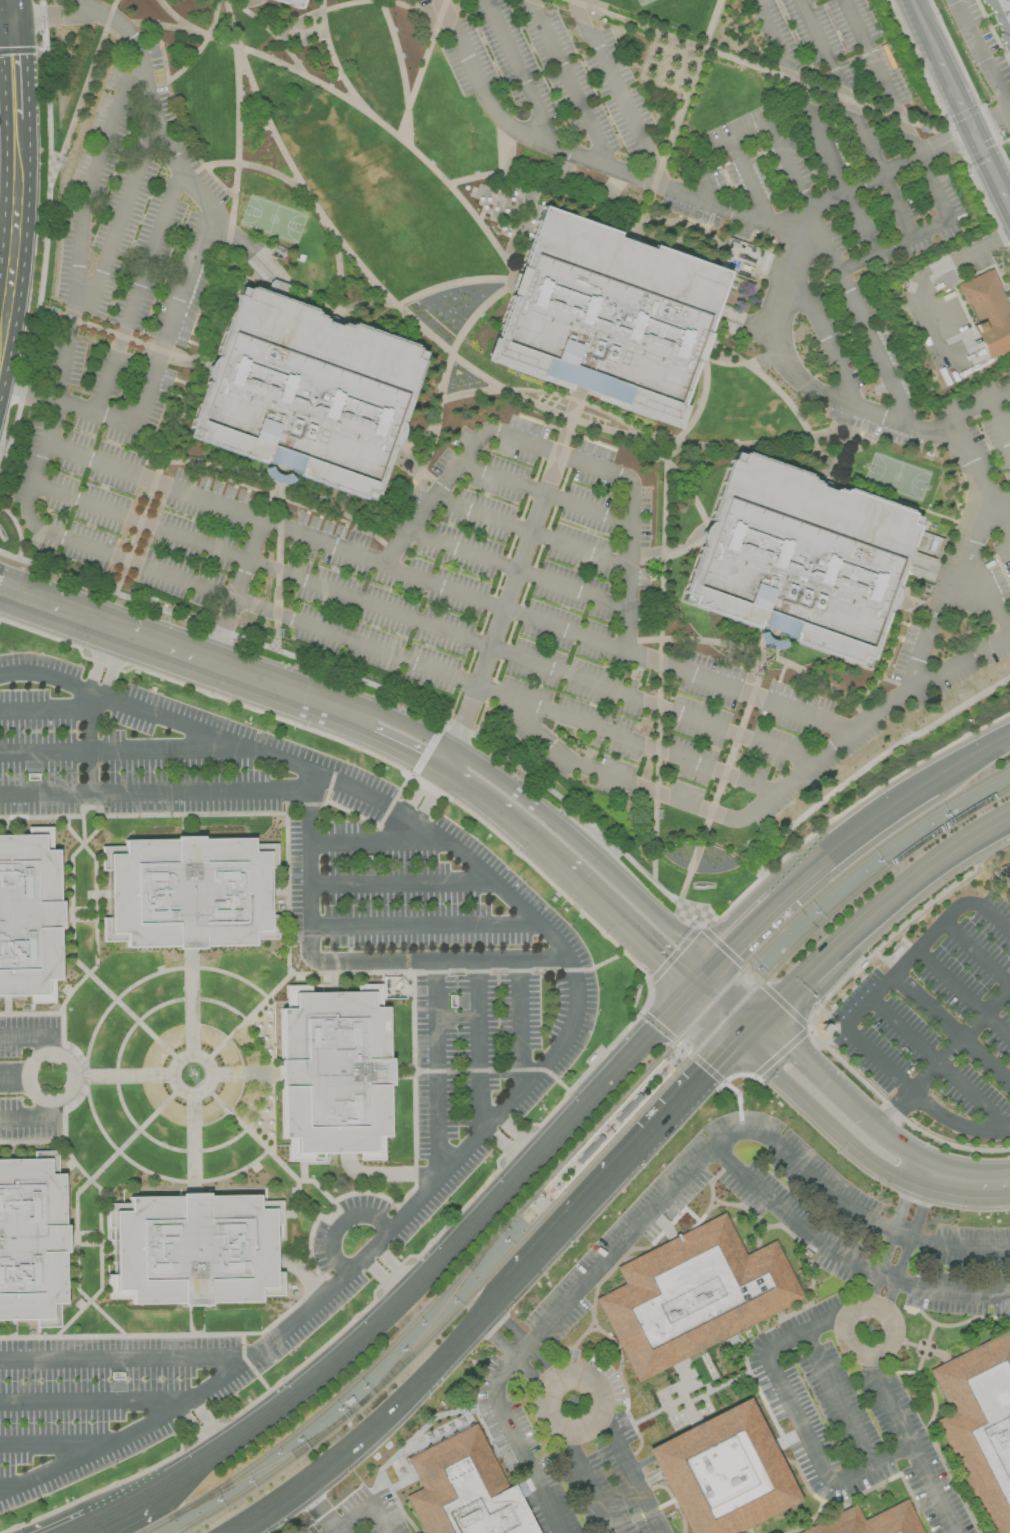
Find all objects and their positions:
road: (383, 2)
park: (644, 2)
building: (289, 3)
road: (80, 7)
road: (8, 10)
road: (15, 10)
parking lot: (782, 12)
road: (85, 13)
building: (1001, 20)
road: (6, 21)
road: (182, 22)
road: (172, 29)
road: (925, 29)
road: (273, 33)
road: (204, 46)
road: (983, 51)
road: (163, 52)
road: (334, 61)
road: (872, 61)
road: (424, 69)
road: (756, 69)
road: (404, 72)
road: (523, 74)
road: (569, 83)
road: (617, 88)
road: (85, 93)
road: (956, 96)
road: (239, 106)
road: (855, 118)
road: (268, 120)
road: (991, 124)
road: (815, 126)
road: (949, 127)
road: (387, 128)
road: (749, 132)
road: (582, 159)
road: (251, 167)
road: (990, 170)
road: (925, 171)
road: (885, 173)
road: (9, 180)
road: (752, 181)
road: (705, 182)
road: (18, 193)
road: (9, 207)
road: (1009, 210)
road: (643, 217)
road: (123, 218)
park: (272, 219)
road: (202, 234)
road: (47, 244)
road: (893, 245)
road: (249, 250)
road: (935, 267)
road: (788, 274)
road: (839, 276)
road: (139, 291)
road: (373, 305)
building: (988, 312)
fountain: (456, 317)
building: (607, 317)
road: (333, 319)
road: (822, 336)
road: (124, 338)
road: (191, 384)
road: (26, 394)
road: (470, 394)
building: (304, 396)
road: (701, 405)
parking lot: (910, 410)
road: (97, 414)
road: (879, 418)
road: (999, 423)
road: (801, 424)
road: (584, 425)
road: (841, 431)
road: (562, 439)
road: (419, 440)
road: (398, 447)
road: (557, 456)
road: (659, 456)
road: (411, 462)
park: (897, 479)
road: (980, 481)
road: (279, 484)
road: (410, 488)
road: (543, 496)
road: (971, 507)
road: (985, 522)
road: (530, 535)
road: (278, 546)
building: (799, 559)
road: (517, 572)
road: (171, 577)
road: (986, 584)
road: (449, 588)
road: (235, 593)
road: (137, 603)
road: (971, 605)
road: (934, 613)
road: (69, 615)
road: (500, 617)
road: (423, 625)
road: (762, 653)
road: (98, 662)
road: (887, 662)
road: (958, 663)
road: (659, 664)
road: (113, 668)
road: (249, 678)
road: (179, 683)
road: (45, 710)
road: (90, 713)
road: (408, 724)
road: (996, 743)
road: (399, 745)
road: (428, 748)
road: (126, 753)
road: (821, 756)
road: (447, 760)
road: (385, 761)
road: (90, 762)
road: (955, 765)
road: (613, 779)
road: (722, 779)
road: (418, 787)
road: (915, 788)
road: (517, 790)
road: (156, 793)
road: (431, 799)
road: (499, 813)
road: (1009, 815)
road: (114, 817)
road: (375, 843)
road: (308, 869)
road: (535, 871)
road: (800, 876)
road: (401, 886)
road: (662, 890)
building: (189, 891)
road: (644, 902)
road: (878, 907)
road: (94, 913)
building: (29, 915)
road: (620, 926)
road: (423, 927)
road: (977, 953)
road: (439, 962)
traffic signals: (711, 967)
road: (699, 980)
road: (139, 983)
road: (736, 990)
road: (272, 991)
traffic signals: (687, 993)
road: (963, 994)
road: (190, 1002)
road: (791, 1012)
road: (854, 1015)
traffic signals: (762, 1016)
road: (712, 1017)
parking lot: (937, 1017)
road: (518, 1027)
road: (750, 1028)
road: (952, 1028)
road: (648, 1035)
road: (37, 1038)
road: (565, 1041)
traffic signals: (738, 1041)
road: (61, 1044)
road: (478, 1049)
road: (675, 1056)
road: (945, 1057)
road: (266, 1061)
road: (940, 1063)
railway: (671, 1068)
building: (334, 1070)
road: (821, 1071)
road: (435, 1072)
road: (208, 1074)
road: (244, 1076)
fountain: (191, 1077)
parking lot: (34, 1078)
road: (121, 1078)
railway: (668, 1078)
road: (13, 1079)
road: (71, 1083)
parking lot: (482, 1088)
road: (797, 1096)
road: (36, 1121)
road: (249, 1135)
road: (517, 1138)
road: (31, 1142)
road: (191, 1145)
road: (901, 1145)
railway: (575, 1147)
road: (506, 1149)
road: (621, 1169)
road: (881, 1169)
road: (384, 1176)
road: (159, 1179)
road: (305, 1182)
road: (960, 1185)
road: (78, 1203)
road: (102, 1208)
road: (857, 1218)
road: (342, 1225)
building: (32, 1239)
road: (891, 1239)
road: (624, 1240)
road: (908, 1246)
building: (193, 1249)
road: (847, 1254)
road: (397, 1266)
road: (429, 1275)
road: (385, 1278)
building: (692, 1295)
road: (871, 1306)
railway: (432, 1325)
road: (507, 1327)
road: (515, 1356)
road: (128, 1359)
road: (544, 1363)
road: (505, 1366)
road: (580, 1380)
road: (837, 1398)
road: (95, 1403)
railway: (356, 1410)
road: (796, 1416)
road: (210, 1423)
road: (378, 1424)
building: (980, 1424)
road: (609, 1430)
road: (195, 1433)
road: (910, 1444)
road: (56, 1447)
road: (571, 1451)
road: (596, 1455)
road: (209, 1458)
road: (523, 1460)
railway: (265, 1470)
building: (722, 1472)
railway: (267, 1477)
road: (168, 1483)
building: (464, 1489)
road: (639, 1489)
road: (385, 1492)
road: (593, 1499)
road: (116, 1513)
road: (379, 1518)
building: (871, 1521)
road: (81, 1530)
road: (338, 1531)

